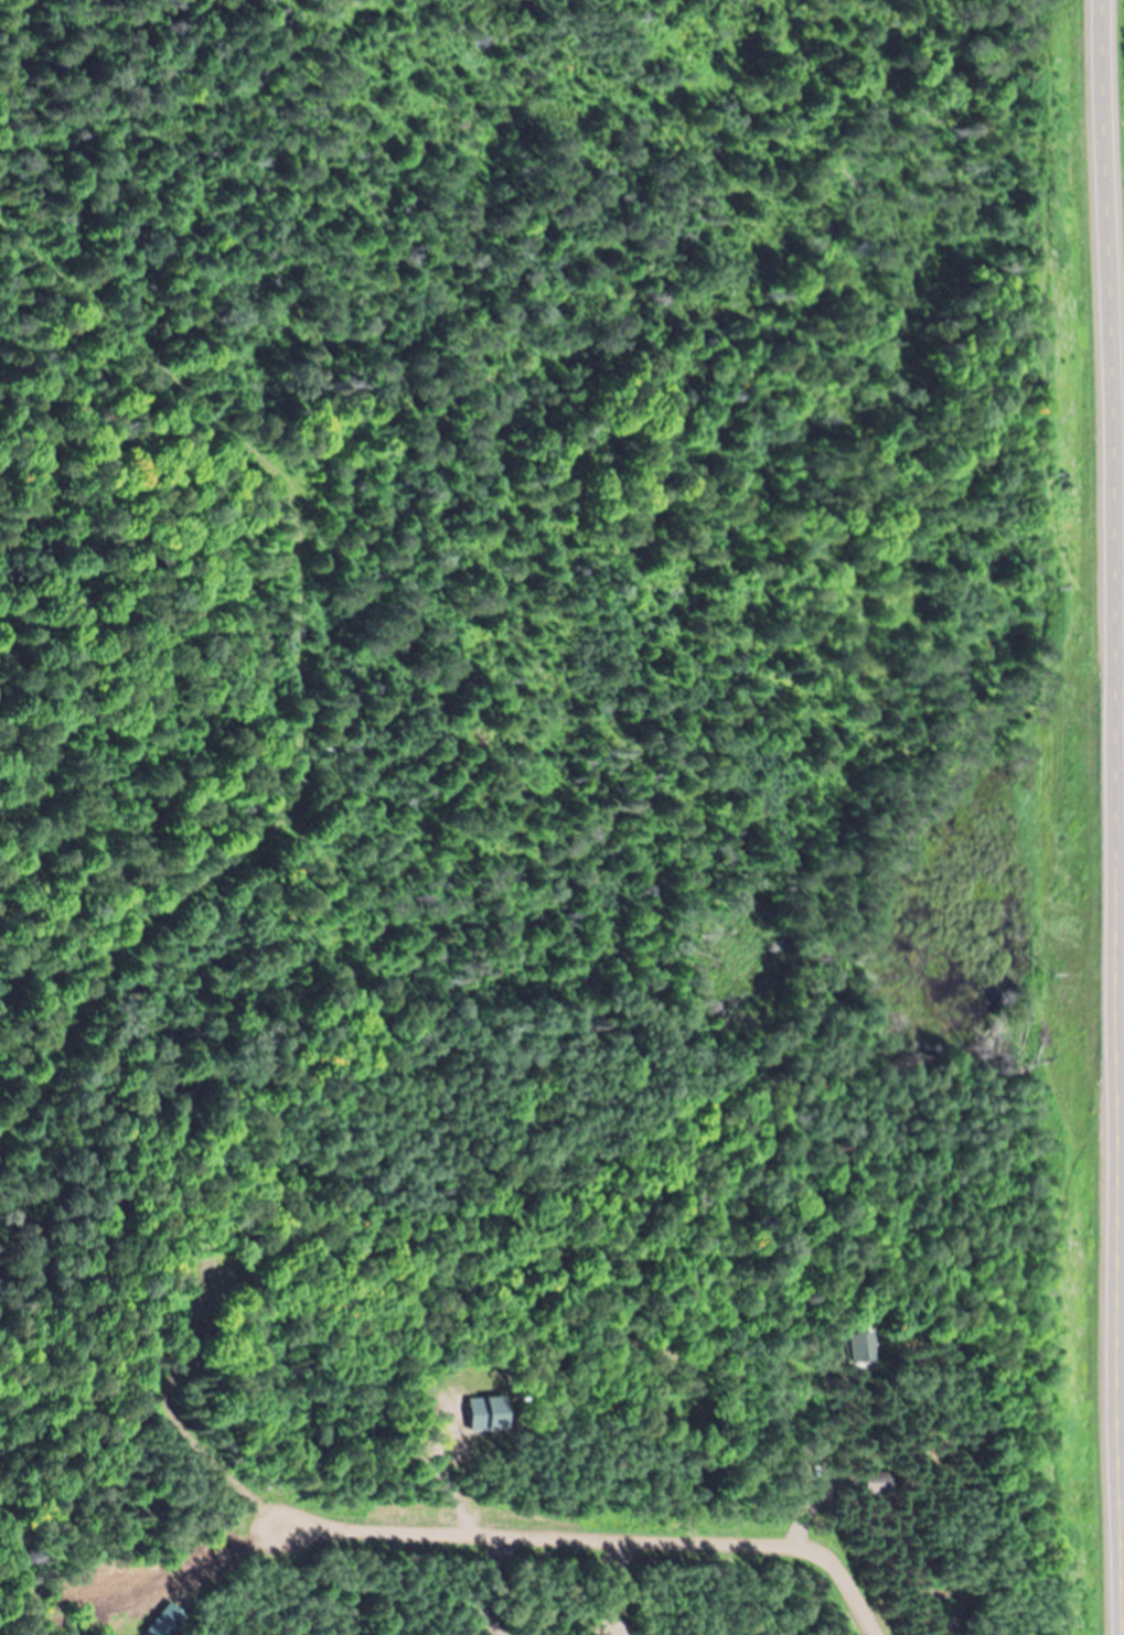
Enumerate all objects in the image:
road: (303, 669)
road: (1116, 817)
building: (861, 1346)
building: (879, 1483)
road: (804, 1517)
road: (600, 1539)
road: (237, 1560)
building: (168, 1622)

